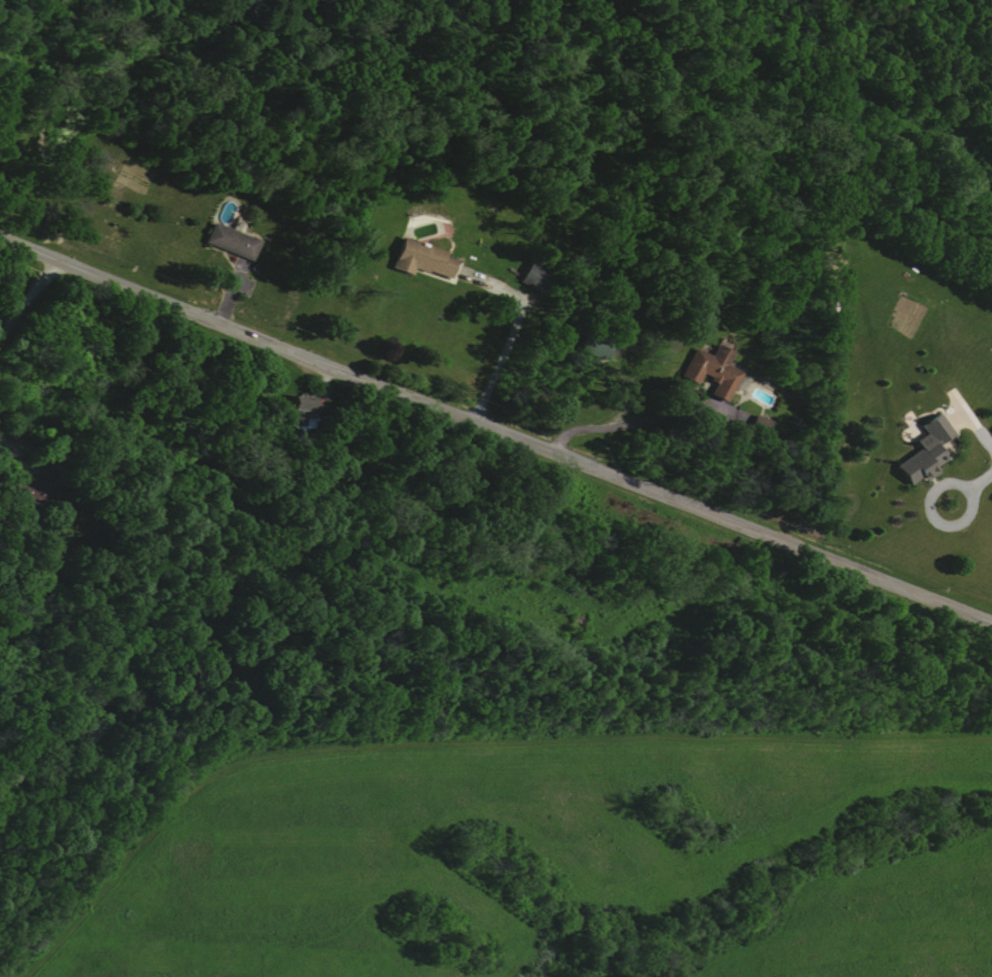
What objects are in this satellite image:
building: (228, 241)
building: (419, 258)
building: (532, 277)
road: (27, 292)
road: (511, 331)
building: (591, 347)
building: (709, 370)
building: (301, 413)
road: (636, 423)
building: (748, 423)
road: (495, 429)
road: (3, 438)
building: (923, 451)
building: (41, 467)
road: (978, 481)
road: (969, 502)

